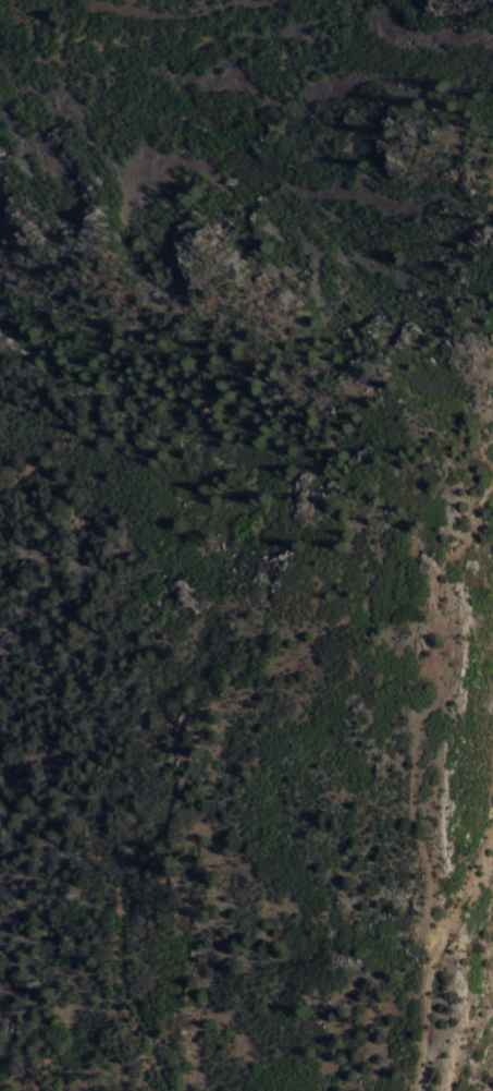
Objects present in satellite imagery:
road: (444, 970)

